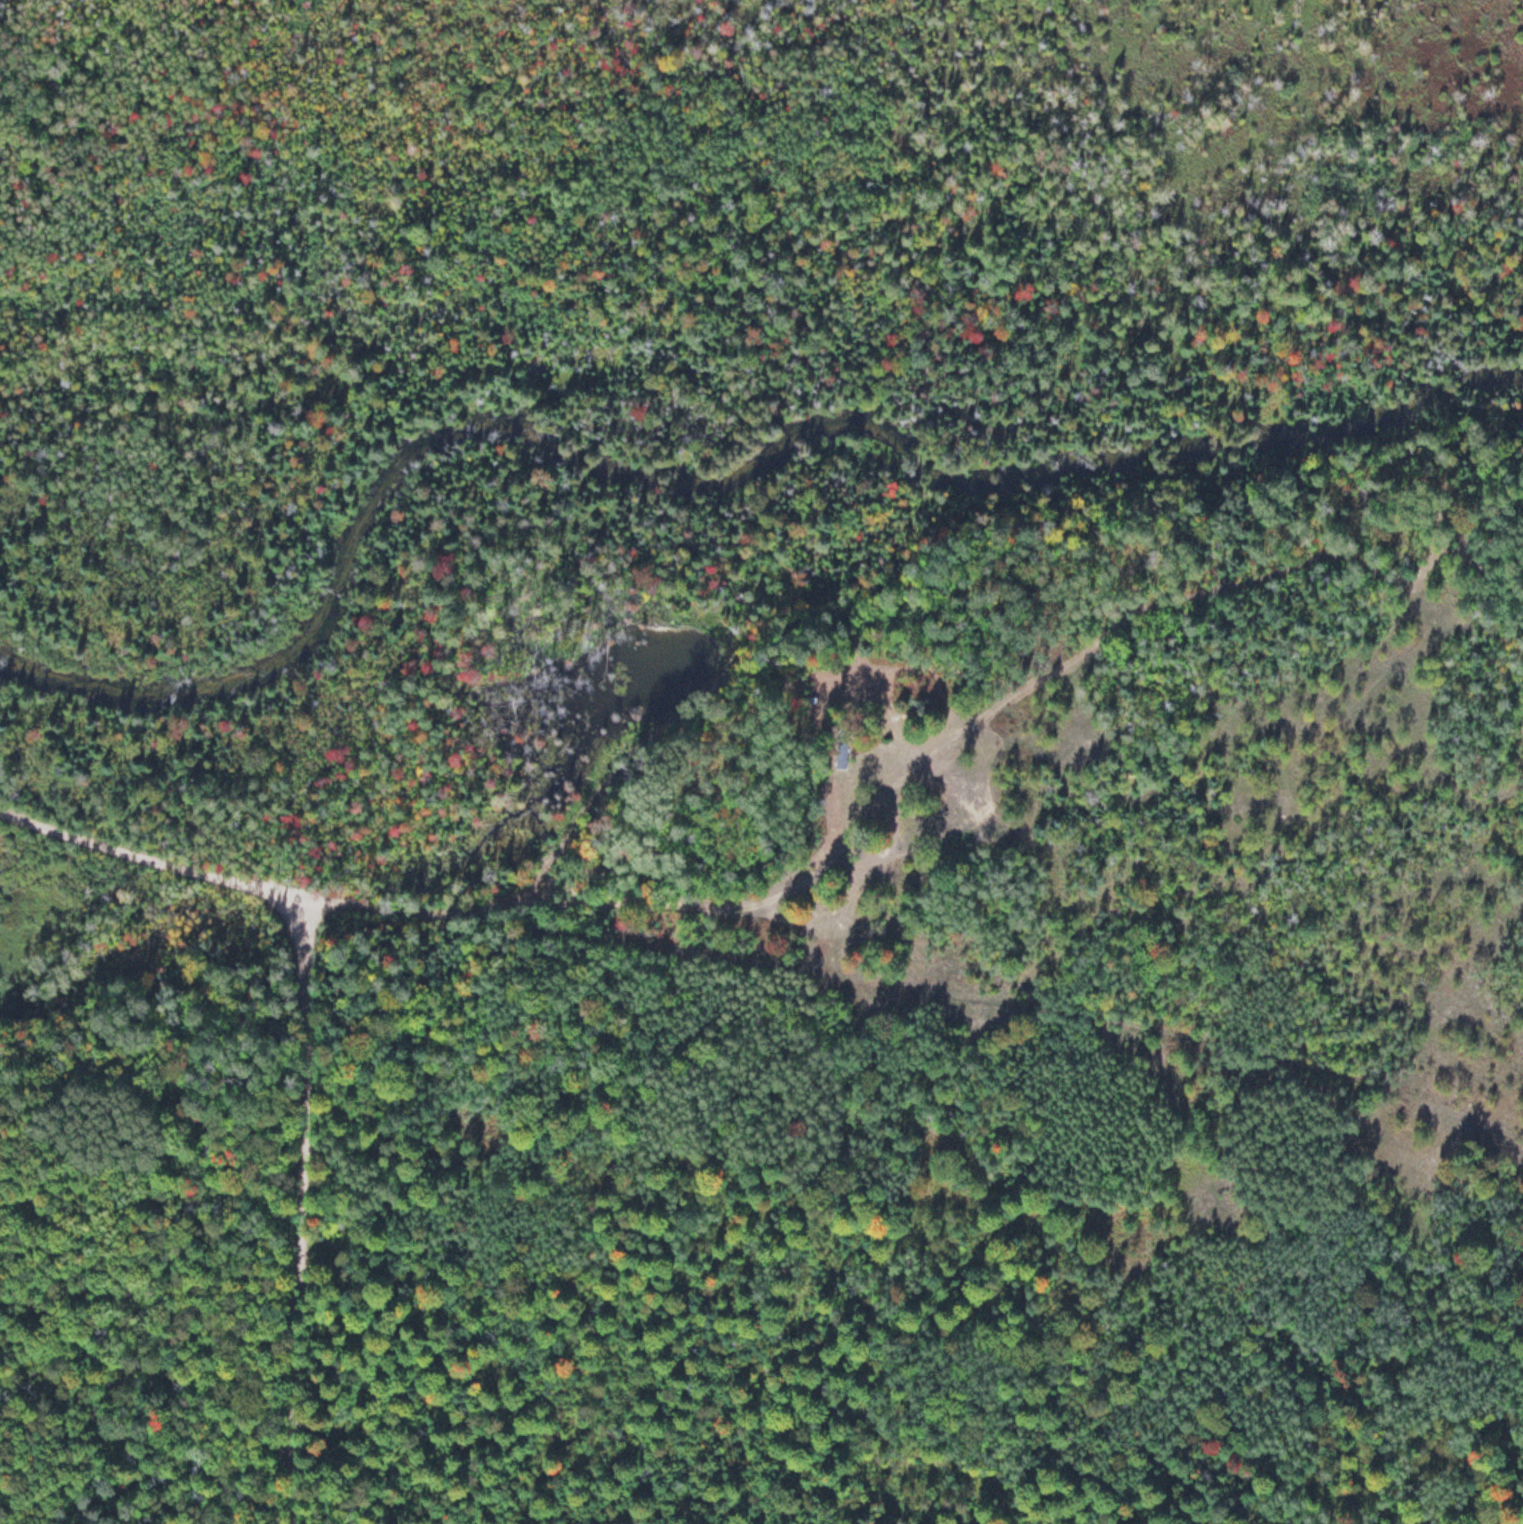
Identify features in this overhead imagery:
river: (709, 487)
building: (842, 751)
road: (148, 855)
road: (727, 907)
road: (917, 984)
road: (298, 1211)
road: (106, 1212)

